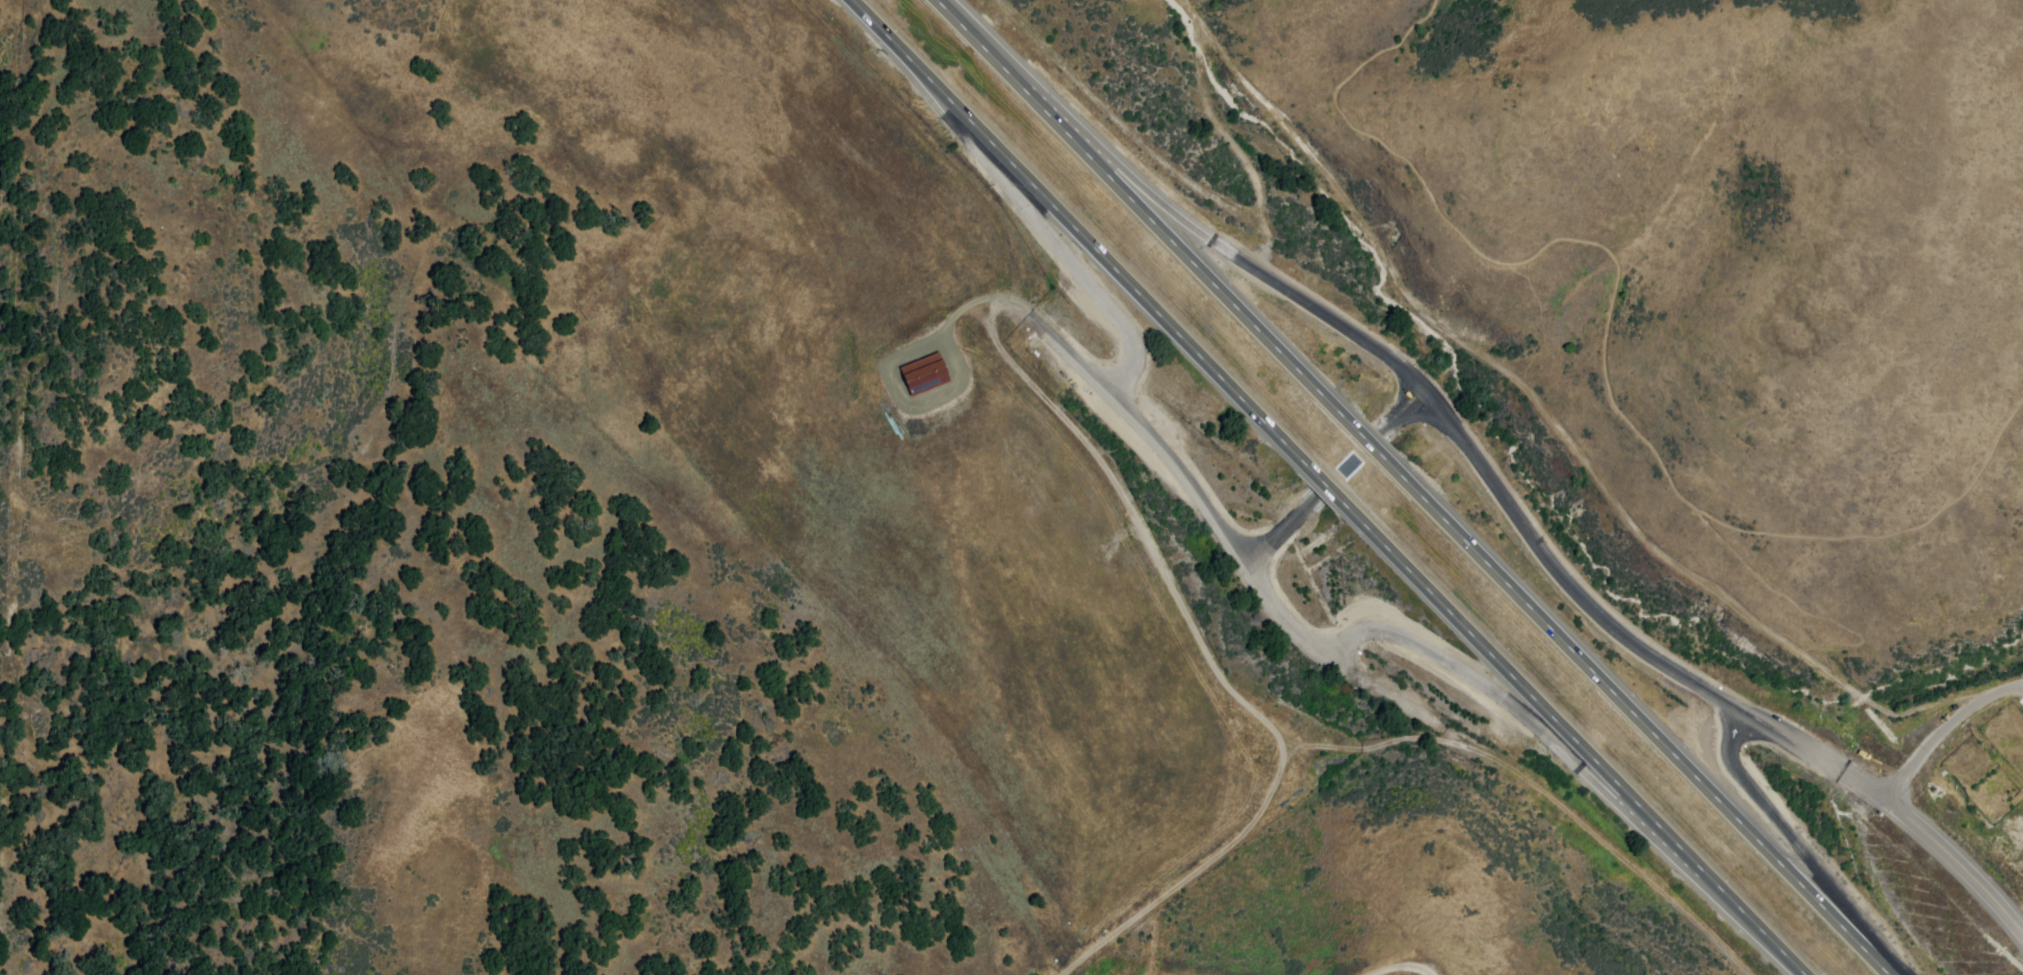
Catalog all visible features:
road: (1027, 208)
road: (1172, 208)
road: (1045, 341)
building: (922, 372)
road: (1404, 410)
road: (1327, 487)
road: (1413, 487)
road: (1279, 530)
road: (1555, 560)
road: (1545, 734)
road: (1886, 787)
road: (1593, 835)
road: (1796, 843)

